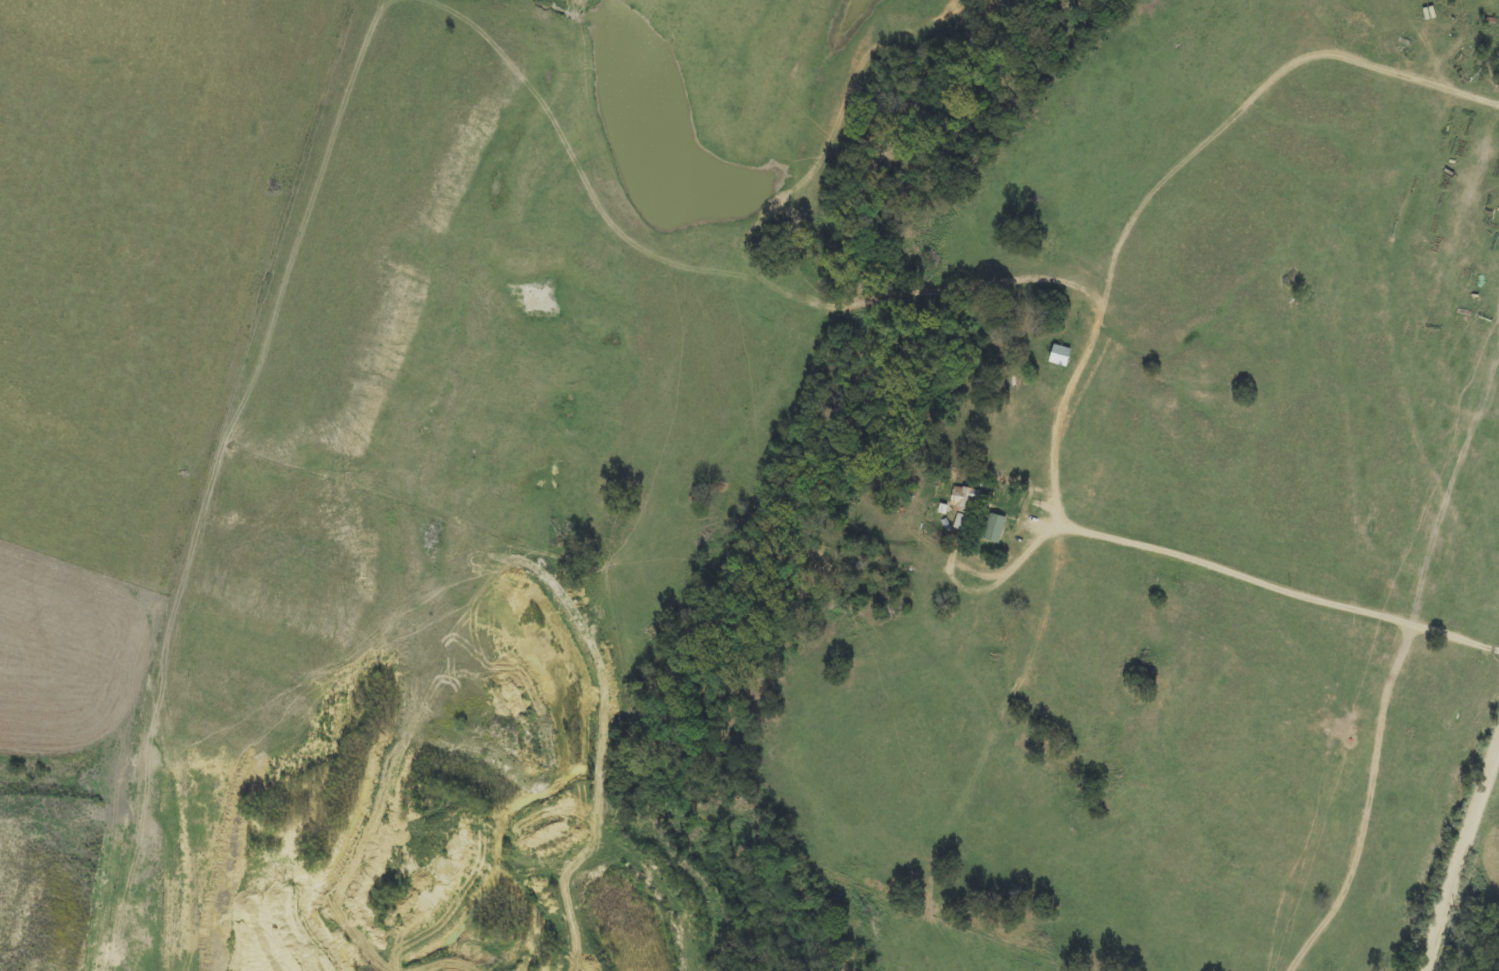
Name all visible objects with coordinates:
building: (1060, 357)
building: (995, 529)
road: (1259, 586)
road: (1474, 894)

